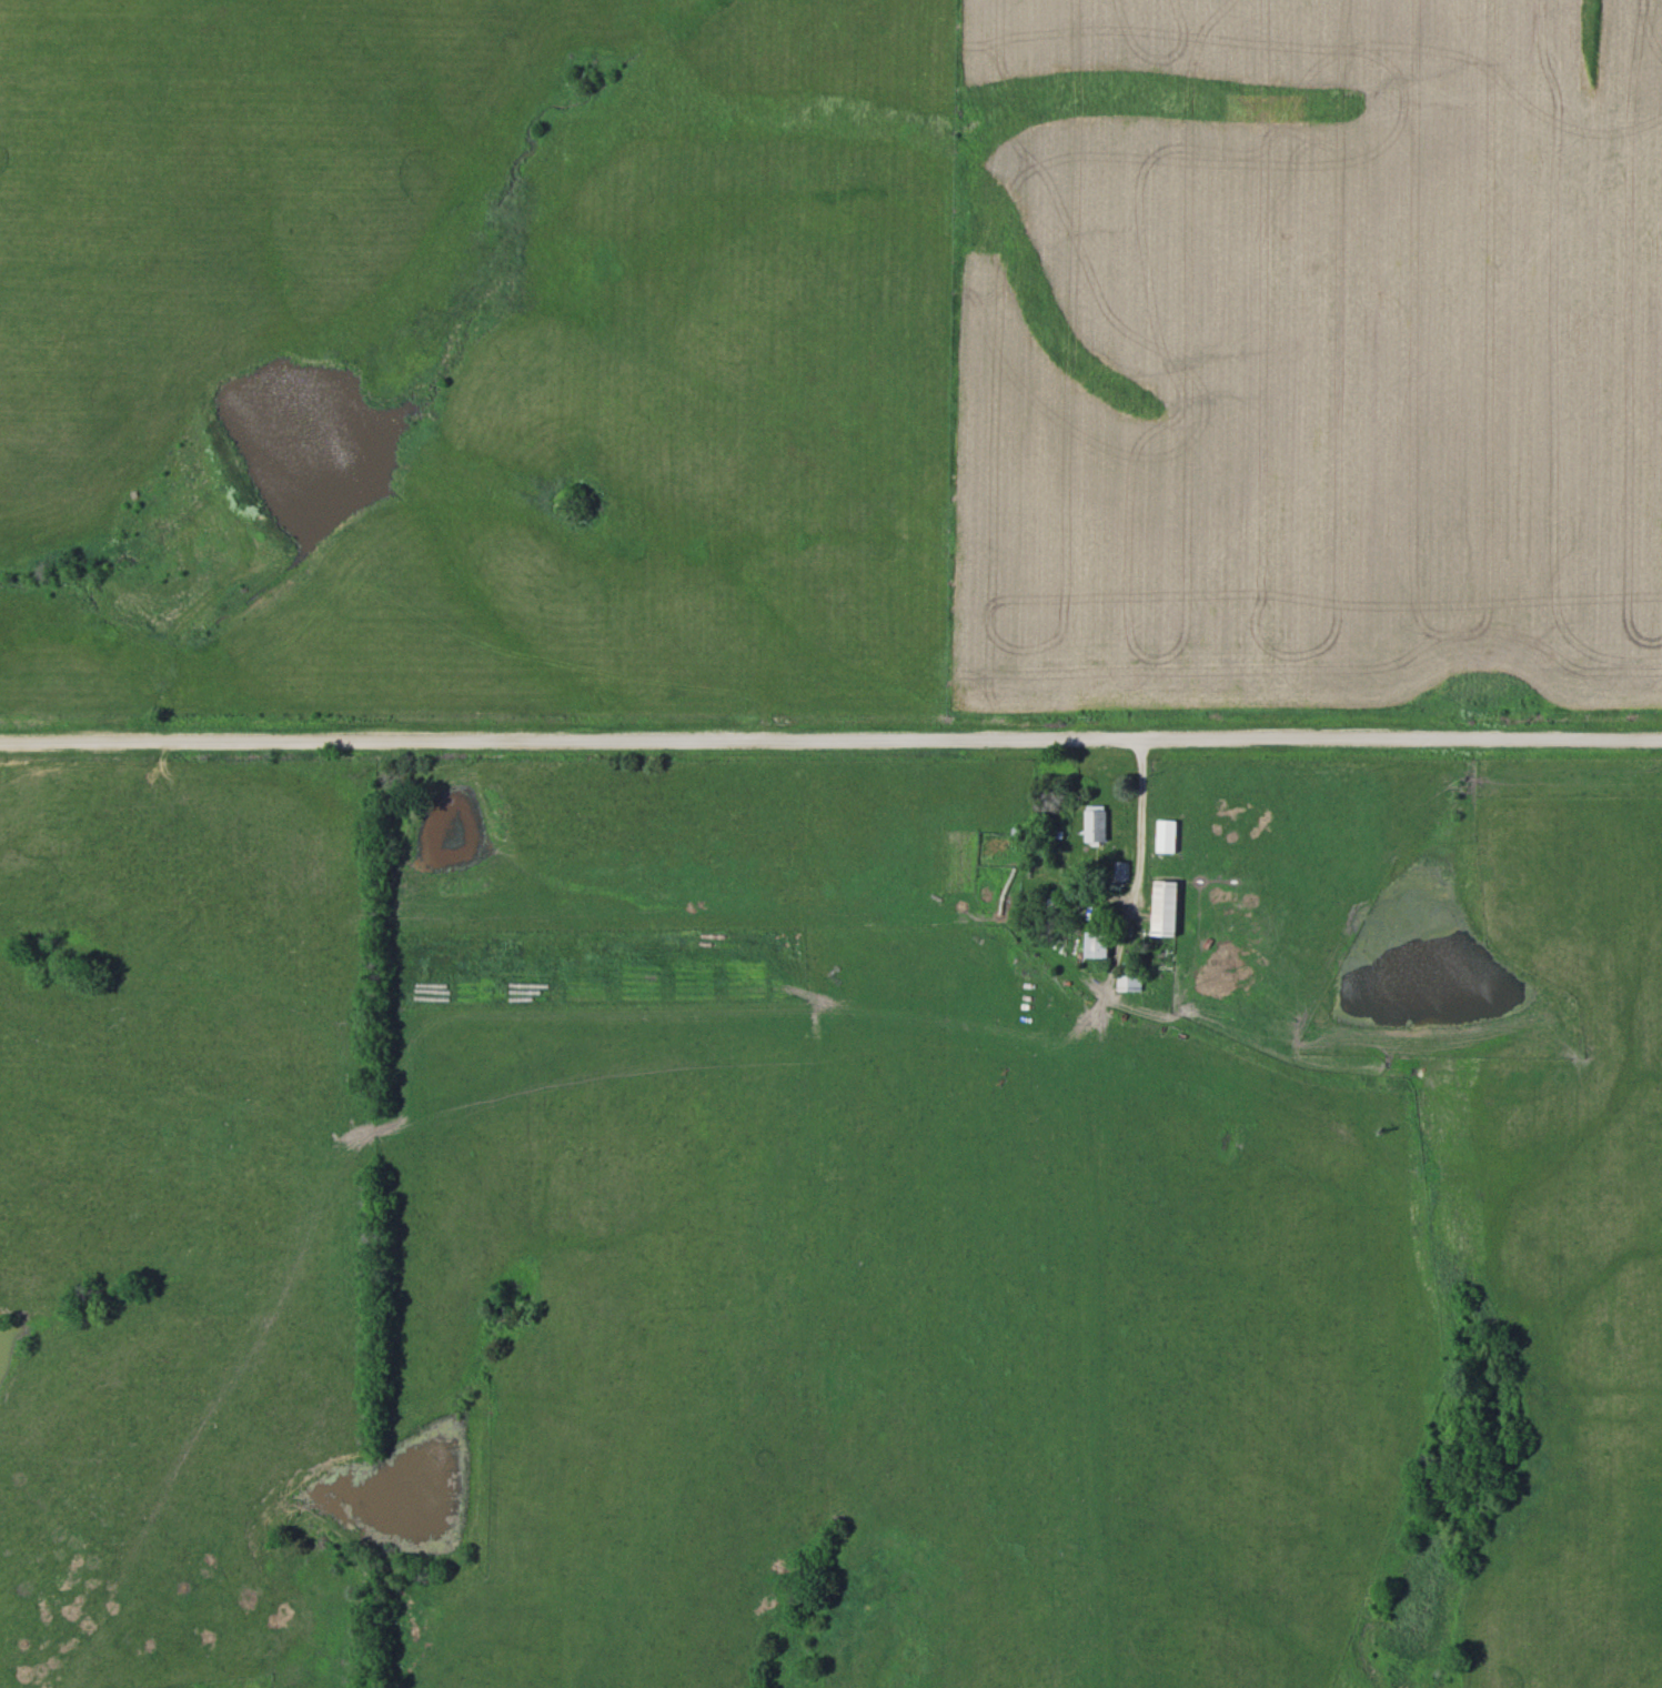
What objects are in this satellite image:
road: (830, 740)
building: (1090, 825)
building: (1115, 872)
building: (1159, 908)
building: (1091, 945)
building: (1125, 982)

